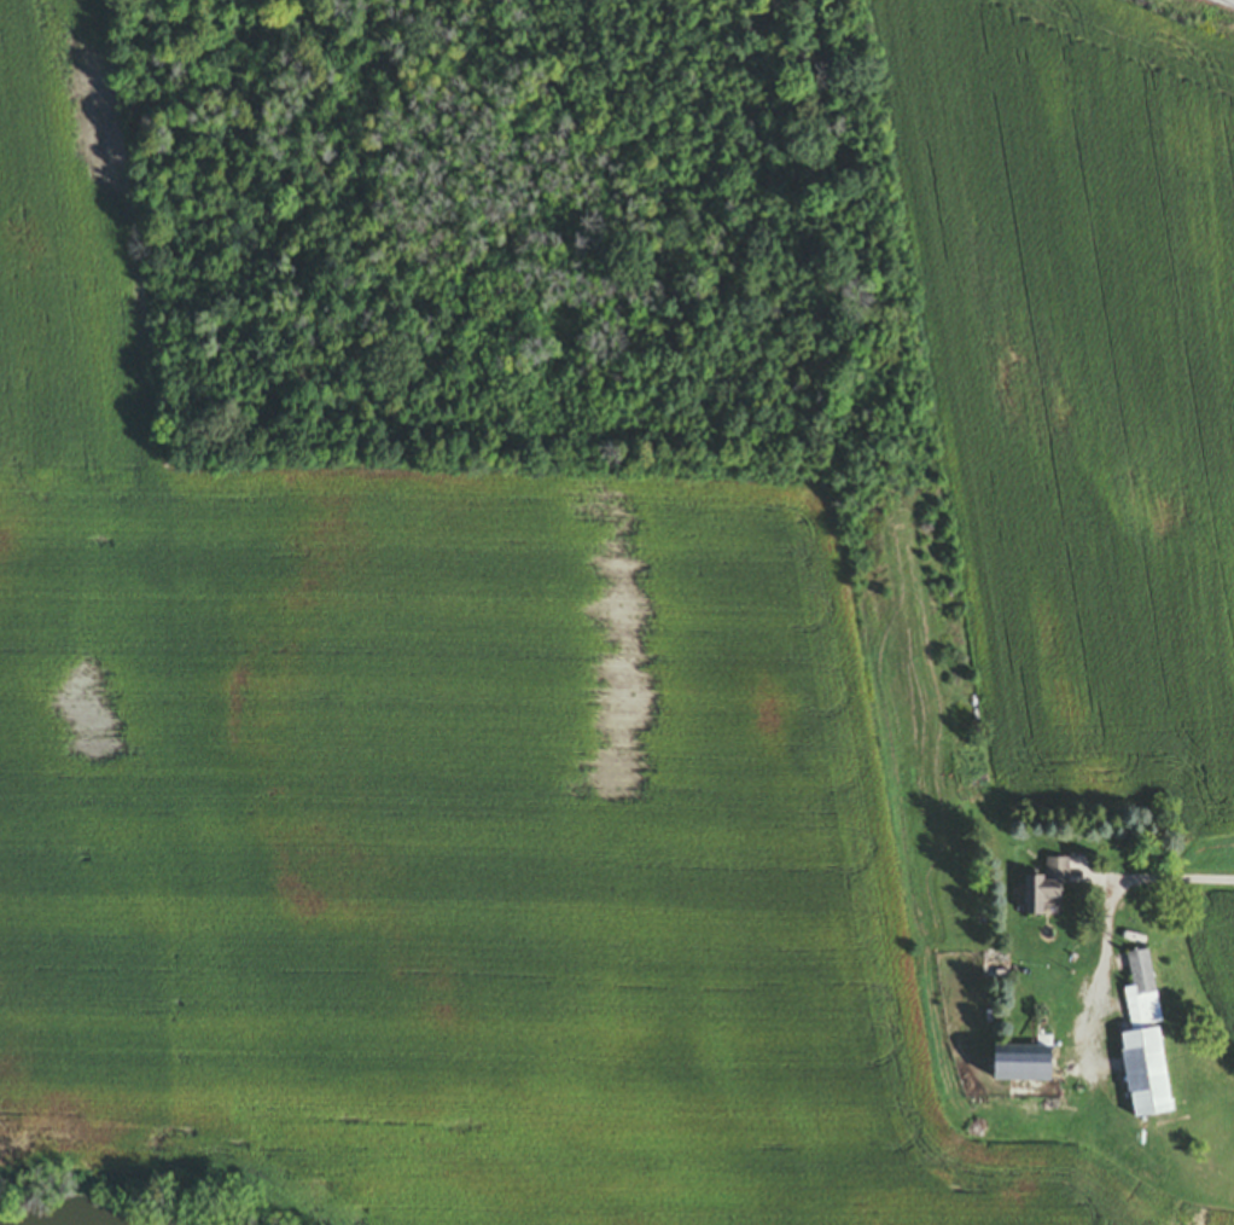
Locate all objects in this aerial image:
road: (1216, 6)
road: (1180, 879)
building: (1044, 890)
building: (1140, 993)
building: (1018, 1064)
building: (1143, 1075)

